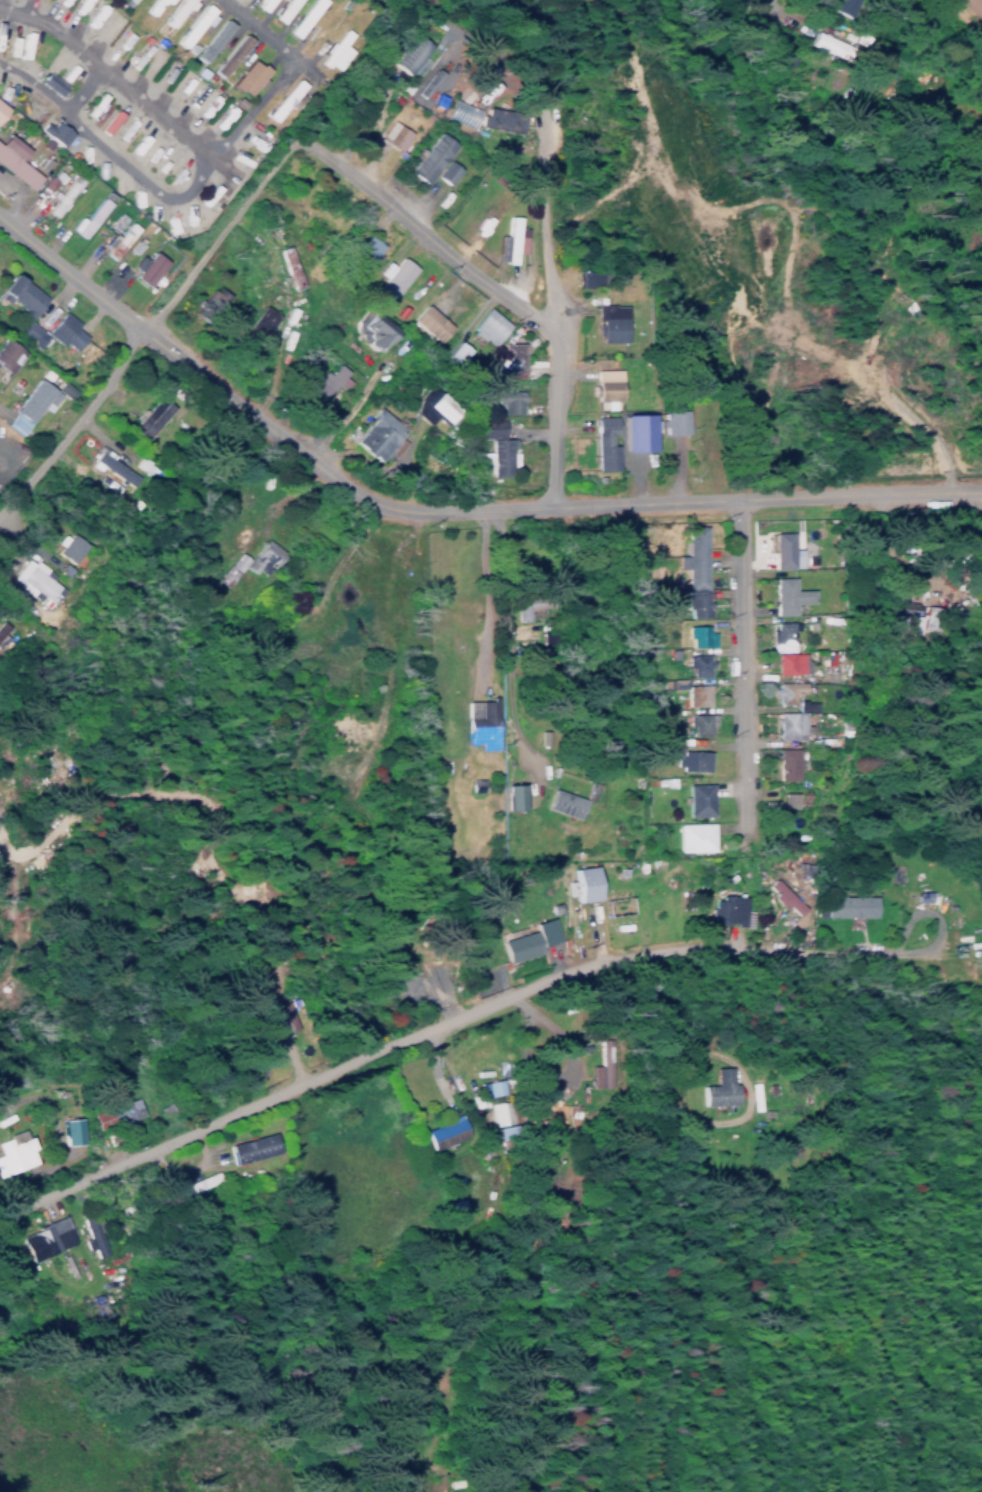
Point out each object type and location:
road: (764, 0)
building: (124, 2)
building: (262, 4)
building: (154, 5)
building: (283, 10)
building: (175, 12)
building: (303, 17)
building: (194, 24)
road: (265, 31)
building: (211, 40)
building: (828, 45)
building: (333, 48)
building: (408, 53)
building: (229, 55)
road: (109, 73)
building: (246, 77)
building: (50, 83)
building: (427, 83)
building: (282, 100)
building: (0, 106)
building: (501, 121)
building: (53, 132)
building: (393, 135)
building: (428, 157)
building: (14, 162)
road: (126, 162)
building: (446, 172)
building: (90, 215)
building: (116, 221)
road: (218, 229)
road: (425, 230)
road: (548, 234)
building: (117, 242)
building: (509, 242)
building: (362, 252)
building: (147, 269)
building: (391, 276)
building: (585, 279)
building: (19, 294)
building: (204, 304)
building: (258, 322)
building: (429, 323)
building: (610, 323)
building: (486, 326)
building: (64, 331)
building: (369, 332)
building: (30, 333)
building: (454, 351)
building: (7, 355)
building: (509, 359)
building: (605, 384)
building: (319, 387)
building: (505, 400)
building: (27, 406)
building: (430, 407)
building: (147, 420)
road: (72, 422)
building: (672, 422)
building: (485, 428)
building: (634, 433)
building: (374, 435)
building: (602, 443)
building: (496, 457)
building: (111, 468)
road: (286, 492)
road: (441, 506)
building: (68, 547)
road: (346, 548)
building: (781, 551)
building: (261, 558)
building: (230, 570)
building: (692, 570)
building: (35, 581)
building: (786, 596)
road: (486, 613)
building: (926, 618)
building: (904, 621)
building: (297, 623)
building: (5, 635)
building: (697, 636)
building: (780, 637)
road: (388, 640)
road: (504, 645)
road: (743, 657)
building: (786, 664)
building: (696, 665)
building: (785, 692)
building: (696, 695)
building: (478, 721)
building: (699, 724)
building: (789, 726)
building: (682, 756)
building: (785, 763)
building: (508, 797)
building: (787, 799)
building: (697, 800)
building: (562, 804)
building: (766, 806)
building: (693, 836)
building: (896, 874)
building: (581, 883)
building: (919, 895)
building: (783, 897)
building: (847, 905)
building: (727, 910)
building: (528, 939)
building: (435, 975)
road: (672, 995)
road: (422, 1026)
building: (488, 1088)
building: (717, 1088)
building: (123, 1109)
building: (499, 1112)
building: (67, 1130)
building: (442, 1132)
building: (250, 1148)
building: (14, 1154)
building: (196, 1184)
road: (85, 1232)
building: (43, 1238)

